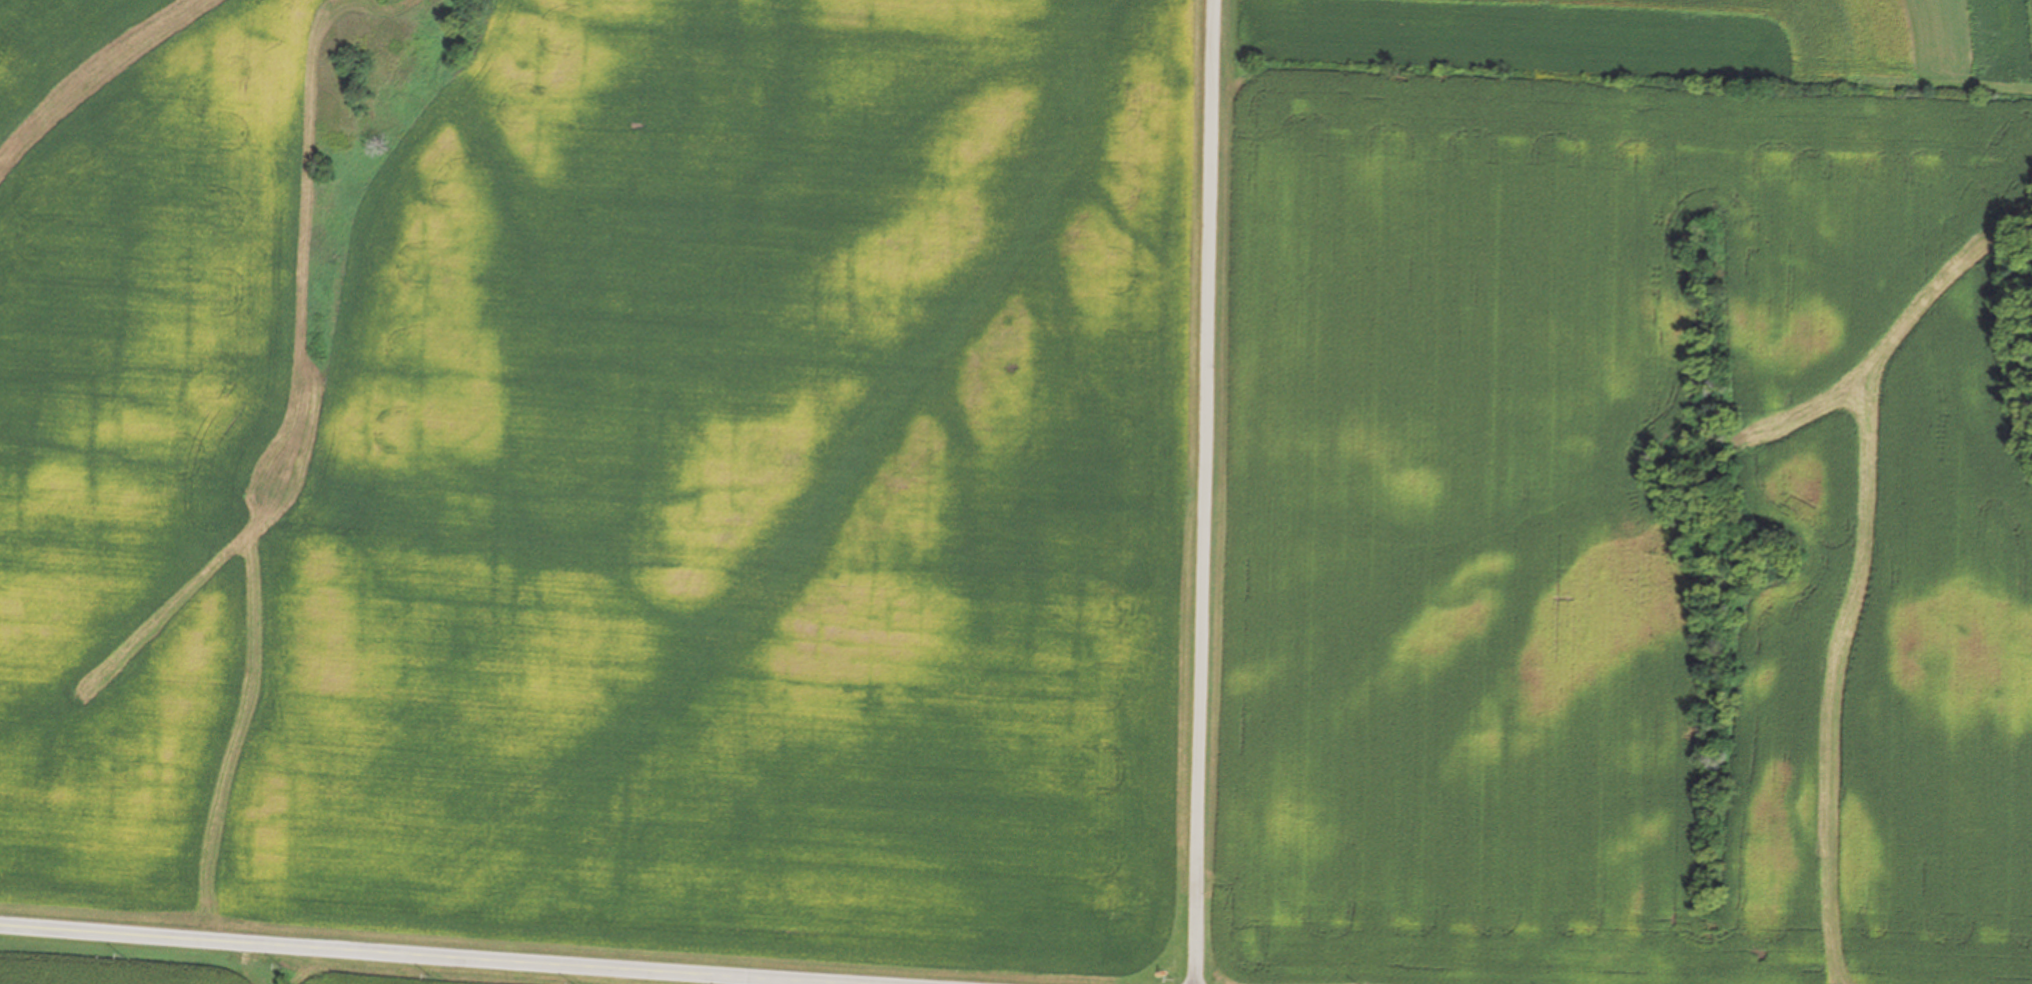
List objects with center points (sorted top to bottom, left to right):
road: (1206, 492)
road: (411, 956)

